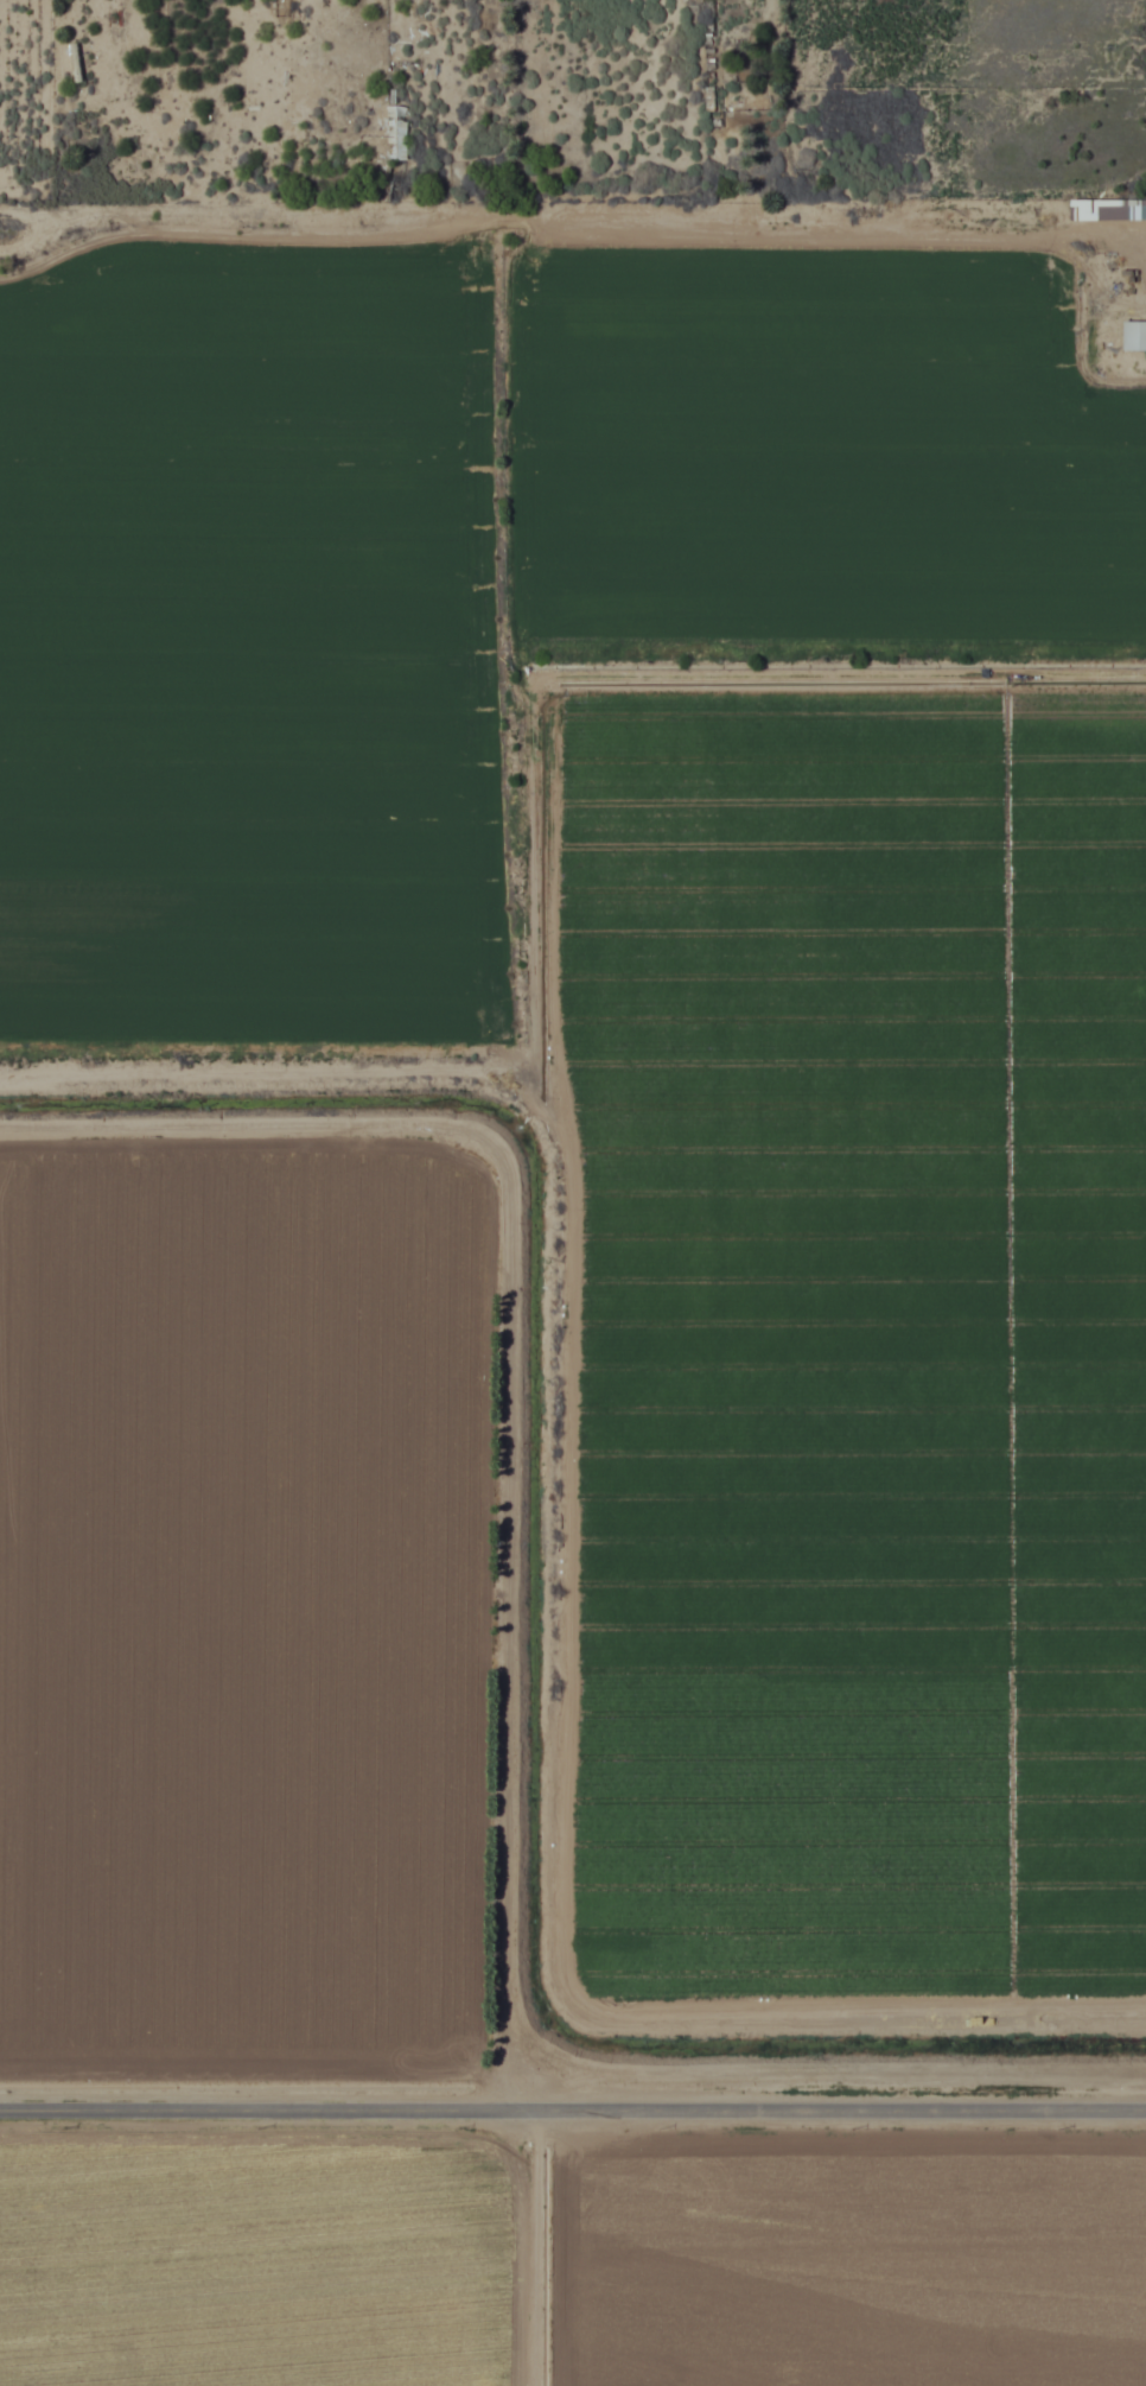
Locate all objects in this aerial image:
building: (395, 133)
building: (1108, 210)
building: (1134, 336)
road: (572, 2105)

